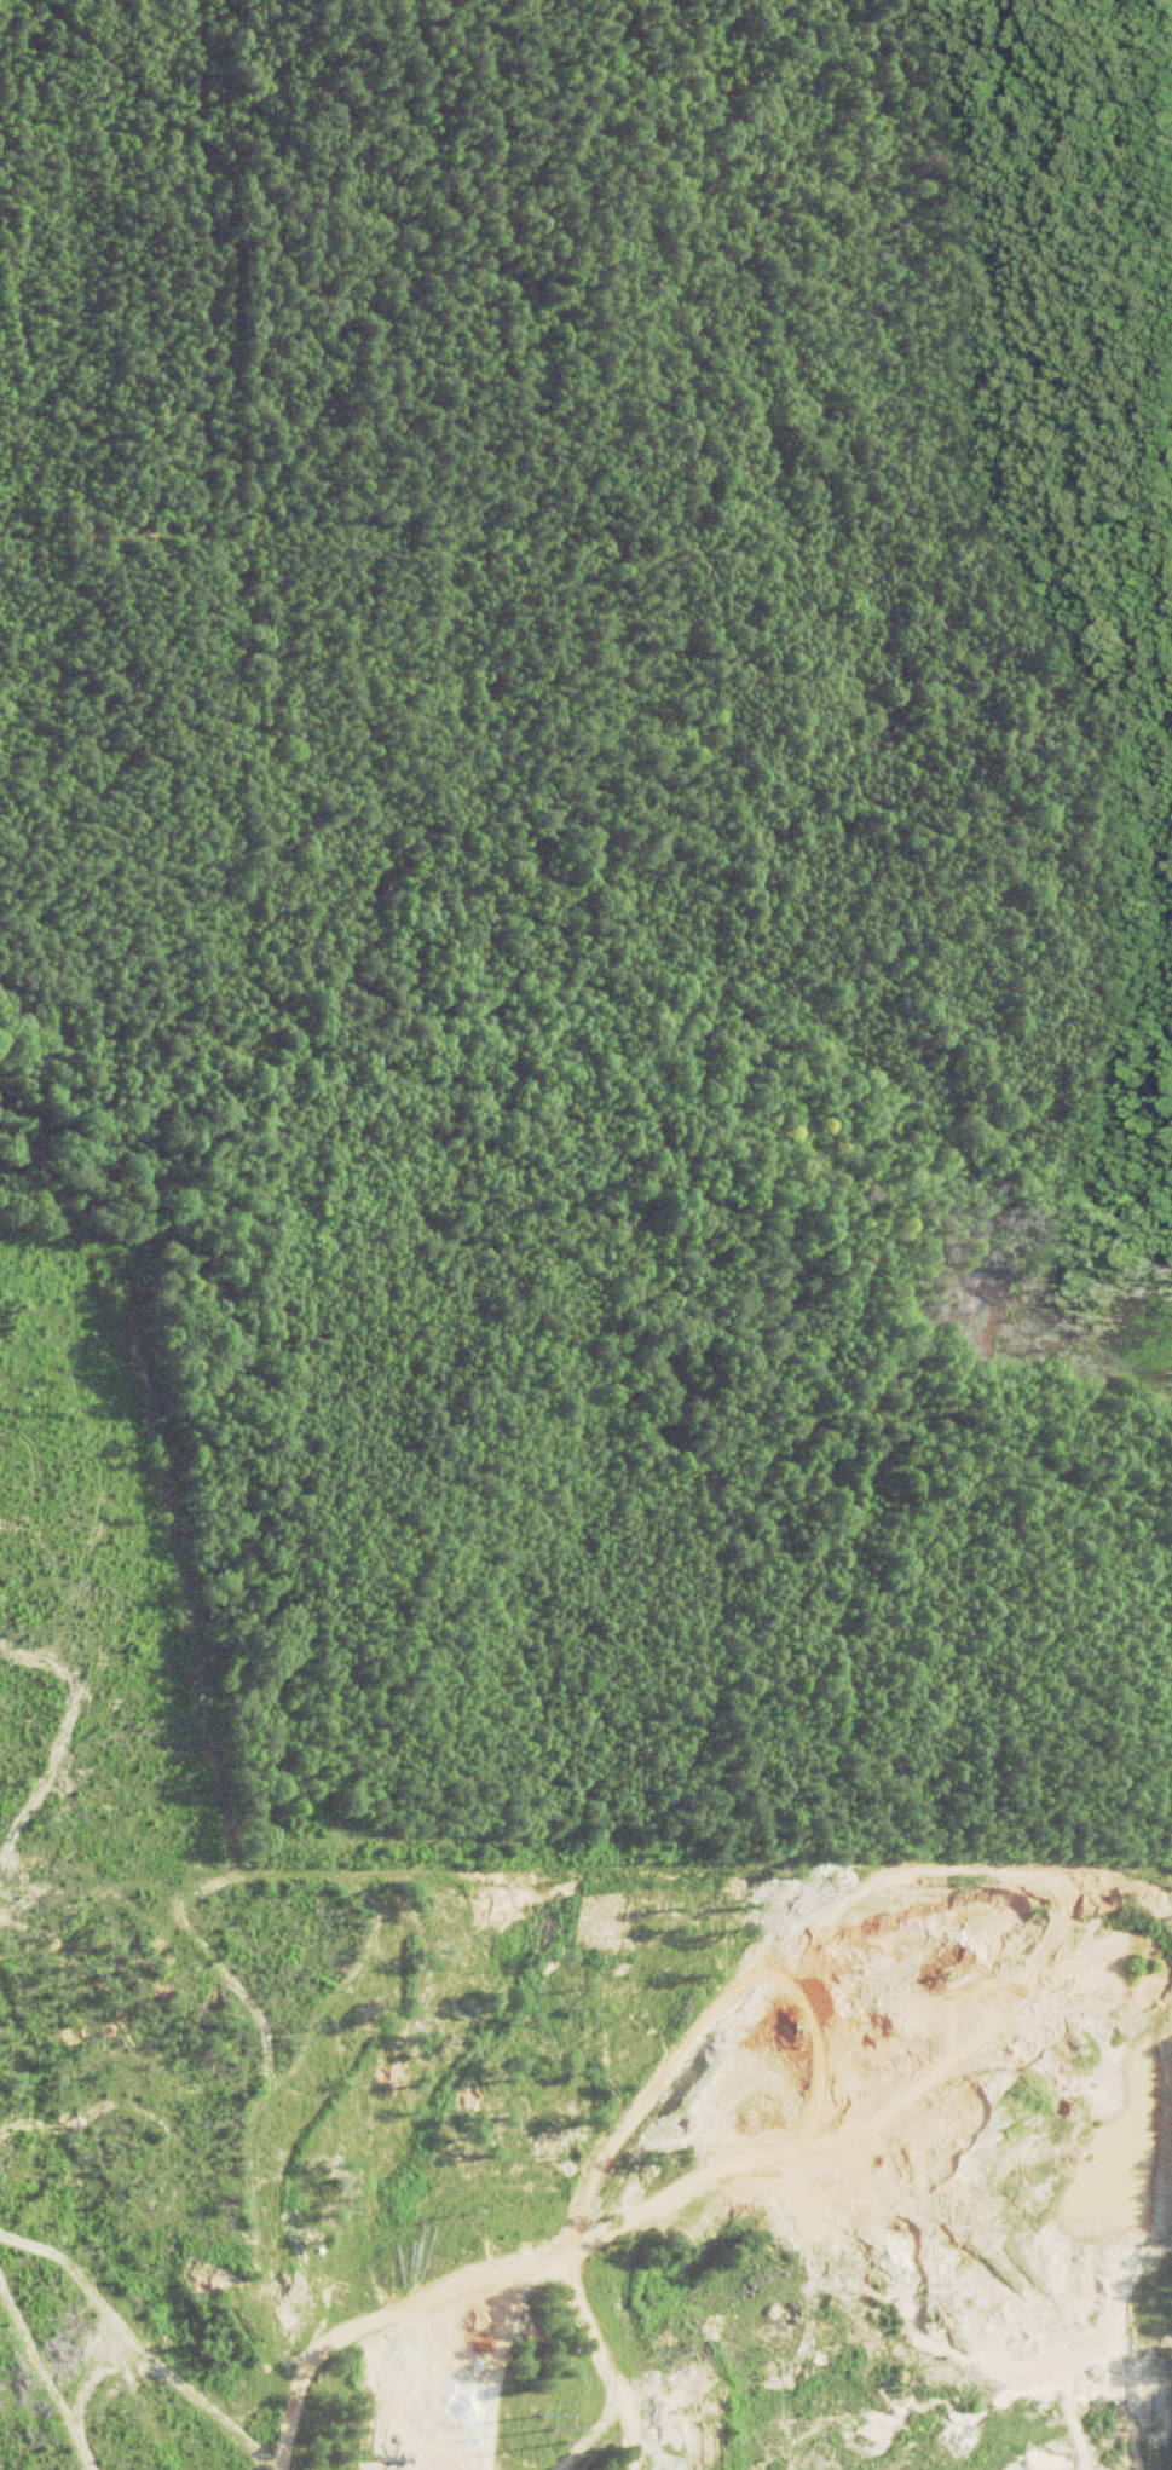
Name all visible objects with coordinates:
power tower: (988, 2130)
power tower: (535, 2430)

